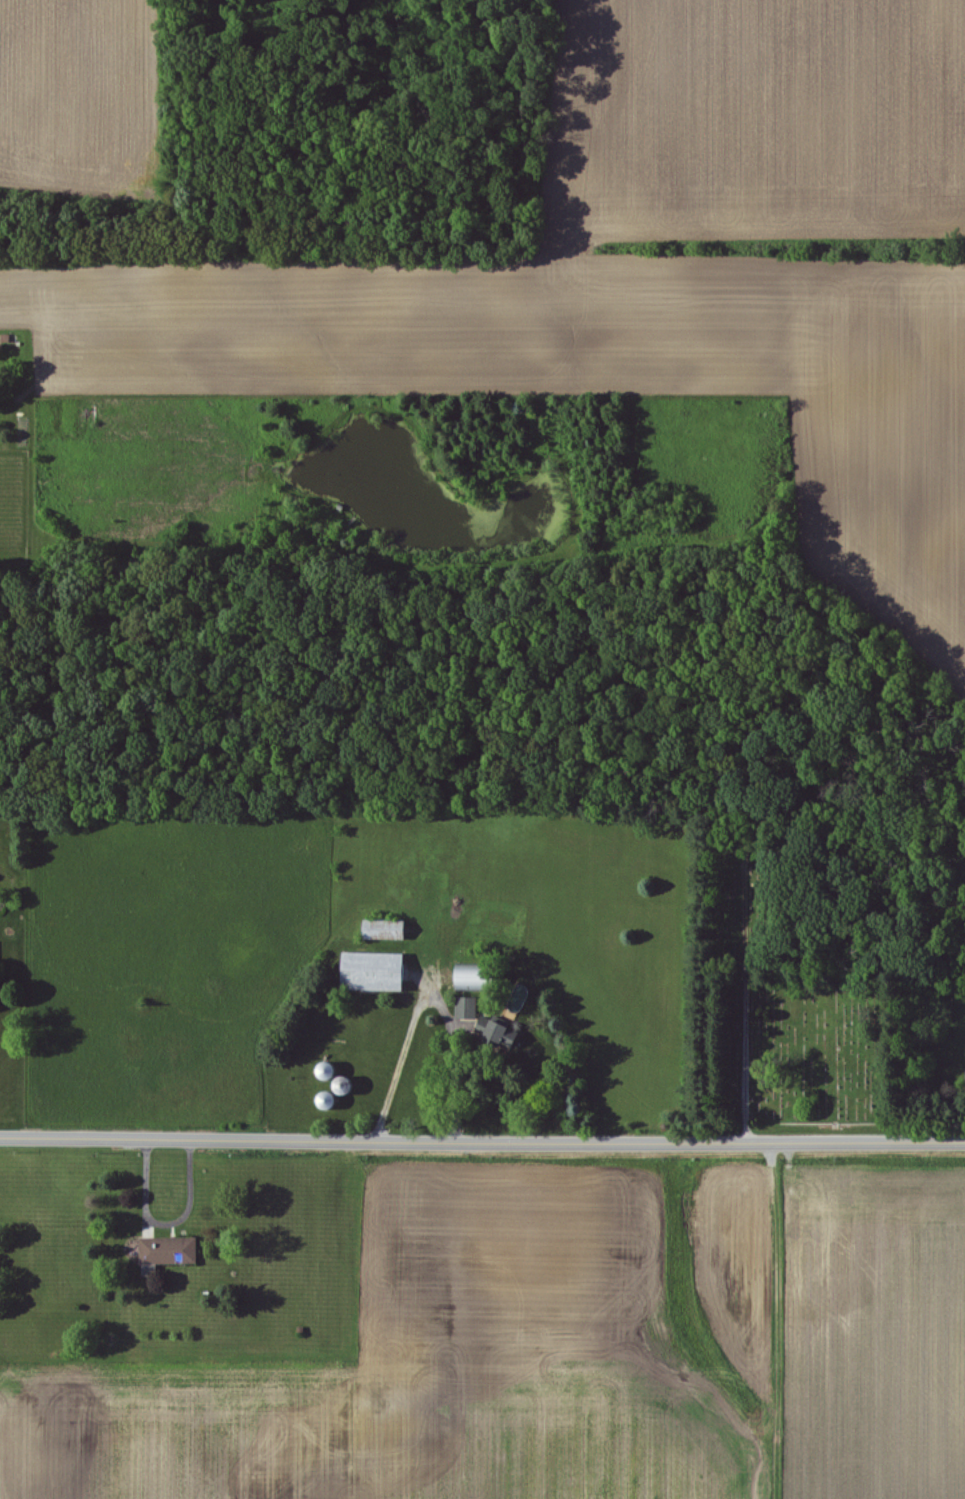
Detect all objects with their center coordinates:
building: (382, 930)
building: (370, 972)
building: (462, 978)
road: (429, 1003)
park: (788, 1017)
road: (482, 1140)
road: (170, 1226)
building: (175, 1252)

